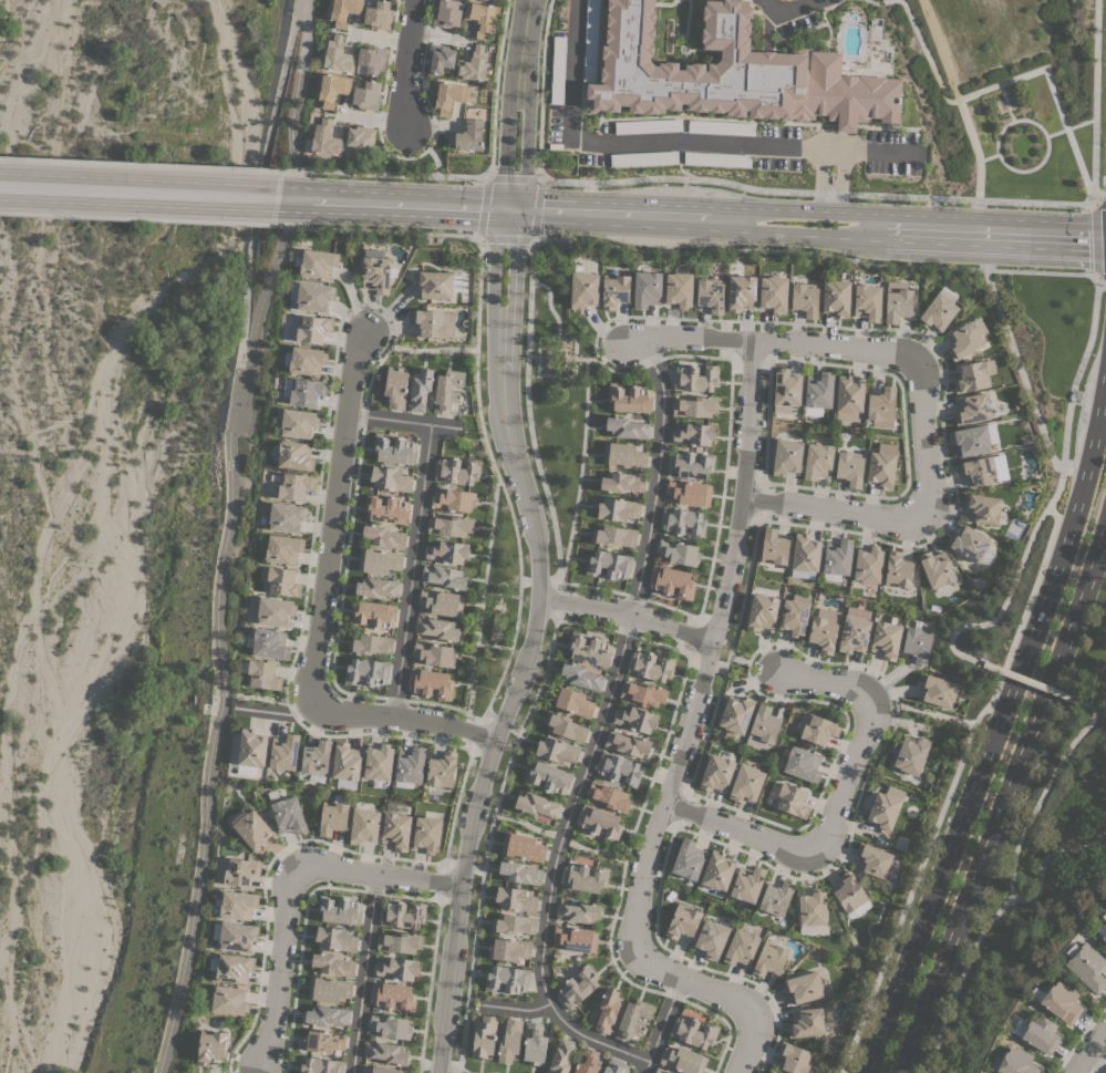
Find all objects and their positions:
road: (875, 1)
road: (785, 10)
building: (343, 11)
building: (446, 13)
building: (378, 14)
building: (480, 18)
building: (590, 41)
road: (924, 54)
building: (338, 55)
building: (440, 58)
building: (372, 59)
road: (405, 64)
building: (473, 64)
building: (558, 70)
building: (731, 73)
building: (332, 87)
road: (1050, 87)
building: (366, 94)
building: (448, 96)
road: (957, 97)
road: (296, 100)
road: (1005, 102)
building: (648, 126)
building: (721, 127)
road: (1068, 127)
building: (467, 135)
building: (325, 138)
building: (360, 138)
road: (672, 138)
road: (427, 147)
road: (988, 156)
building: (643, 157)
building: (716, 158)
road: (1000, 162)
road: (139, 164)
road: (381, 172)
road: (829, 187)
road: (139, 193)
road: (919, 197)
road: (302, 200)
traffic signals: (508, 210)
road: (576, 214)
road: (135, 218)
road: (373, 230)
road: (965, 231)
road: (476, 237)
road: (1095, 238)
building: (318, 264)
building: (375, 274)
building: (434, 283)
building: (679, 288)
building: (583, 289)
building: (647, 289)
building: (614, 290)
building: (741, 292)
road: (262, 293)
building: (773, 293)
building: (711, 295)
building: (313, 297)
building: (836, 298)
building: (805, 299)
building: (897, 301)
building: (867, 302)
road: (548, 306)
building: (938, 312)
building: (430, 322)
building: (313, 329)
building: (965, 339)
road: (773, 344)
road: (418, 350)
road: (610, 351)
road: (531, 355)
road: (537, 357)
road: (583, 358)
building: (307, 360)
building: (973, 375)
building: (695, 378)
building: (395, 386)
building: (420, 389)
building: (819, 389)
building: (786, 390)
building: (306, 391)
building: (447, 392)
building: (629, 398)
building: (849, 398)
building: (694, 406)
road: (527, 407)
building: (881, 407)
building: (972, 407)
road: (1066, 413)
road: (404, 421)
building: (298, 423)
building: (627, 427)
building: (693, 434)
building: (971, 440)
building: (394, 450)
building: (294, 455)
building: (623, 455)
building: (786, 456)
building: (817, 461)
building: (690, 465)
building: (882, 465)
building: (850, 467)
building: (456, 471)
building: (979, 471)
road: (579, 474)
building: (391, 478)
building: (622, 482)
road: (498, 484)
building: (293, 485)
building: (690, 493)
building: (453, 501)
building: (618, 508)
building: (982, 508)
building: (386, 509)
road: (901, 516)
building: (287, 517)
building: (682, 520)
building: (451, 525)
road: (227, 536)
building: (383, 536)
building: (613, 536)
road: (534, 539)
building: (969, 543)
building: (774, 547)
building: (283, 548)
building: (446, 551)
building: (679, 551)
building: (805, 556)
building: (837, 558)
building: (379, 560)
building: (608, 564)
building: (868, 564)
building: (937, 568)
road: (411, 570)
building: (898, 570)
building: (444, 577)
building: (280, 580)
building: (672, 581)
building: (378, 587)
road: (479, 595)
road: (499, 595)
road: (554, 600)
building: (442, 602)
road: (1000, 606)
road: (321, 610)
building: (272, 611)
building: (762, 611)
building: (373, 615)
road: (624, 615)
building: (794, 617)
road: (337, 627)
building: (436, 629)
building: (824, 629)
building: (854, 633)
building: (886, 639)
building: (268, 643)
building: (370, 643)
building: (918, 643)
road: (492, 646)
building: (589, 649)
building: (434, 654)
road: (744, 656)
building: (651, 666)
building: (366, 671)
building: (261, 674)
building: (581, 677)
road: (1024, 679)
building: (431, 683)
building: (938, 691)
building: (643, 692)
road: (267, 699)
building: (572, 701)
road: (919, 709)
road: (277, 711)
building: (736, 713)
building: (635, 719)
building: (764, 724)
road: (994, 725)
building: (565, 726)
road: (597, 726)
building: (818, 729)
road: (681, 741)
building: (628, 743)
building: (251, 747)
building: (556, 750)
building: (283, 752)
building: (911, 754)
building: (316, 757)
building: (379, 762)
building: (345, 764)
building: (410, 764)
building: (803, 764)
building: (619, 768)
building: (442, 770)
building: (716, 773)
building: (548, 777)
building: (746, 783)
road: (1045, 786)
building: (609, 796)
road: (1003, 797)
building: (792, 801)
building: (536, 804)
road: (837, 808)
building: (885, 808)
building: (288, 814)
building: (332, 817)
building: (600, 822)
building: (363, 825)
building: (250, 827)
building: (396, 830)
building: (427, 834)
road: (487, 838)
building: (521, 846)
road: (1046, 854)
building: (688, 859)
building: (872, 859)
building: (717, 870)
building: (239, 871)
building: (519, 873)
building: (585, 877)
building: (747, 884)
road: (285, 888)
building: (849, 891)
building: (776, 897)
building: (516, 898)
building: (237, 905)
building: (812, 907)
building: (339, 910)
building: (578, 912)
building: (403, 915)
building: (682, 921)
building: (513, 924)
building: (237, 936)
building: (335, 938)
building: (576, 938)
building: (712, 938)
building: (1104, 938)
building: (400, 942)
building: (741, 947)
building: (508, 949)
building: (769, 958)
building: (332, 964)
building: (1087, 967)
building: (231, 968)
building: (397, 969)
road: (361, 974)
road: (428, 977)
building: (507, 979)
road: (959, 980)
building: (578, 987)
building: (804, 987)
building: (329, 989)
building: (393, 995)
building: (229, 1000)
building: (1061, 1001)
road: (514, 1009)
building: (608, 1010)
building: (327, 1014)
building: (633, 1020)
building: (806, 1022)
building: (390, 1025)
road: (661, 1025)
building: (693, 1032)
building: (1041, 1034)
building: (484, 1036)
building: (323, 1041)
building: (509, 1041)
building: (535, 1043)
building: (210, 1046)
road: (1088, 1049)
building: (386, 1052)
building: (561, 1056)
building: (795, 1057)
building: (683, 1060)
building: (587, 1061)
building: (1016, 1062)
building: (321, 1065)
building: (614, 1066)
building: (379, 1070)
building: (660, 1070)
building: (771, 1071)

